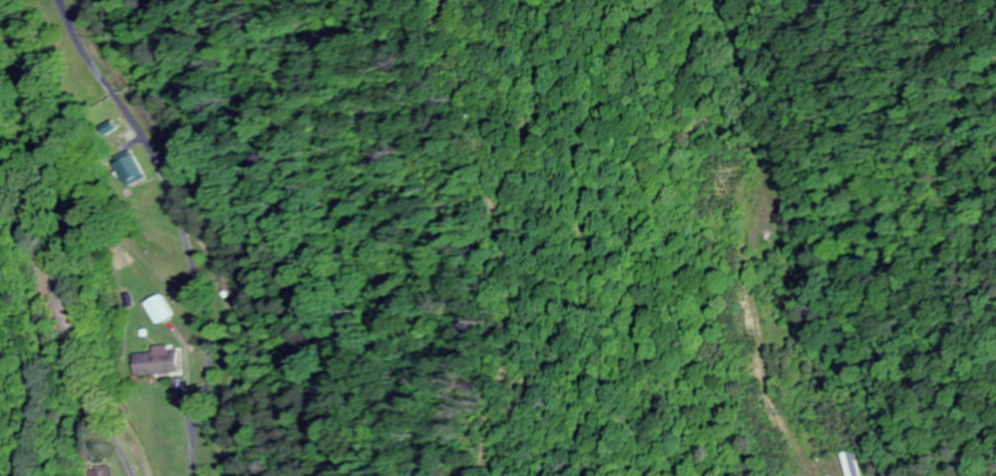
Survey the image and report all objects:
building: (137, 170)
road: (181, 224)
road: (113, 295)
building: (160, 309)
building: (159, 363)
building: (847, 465)
building: (100, 472)

